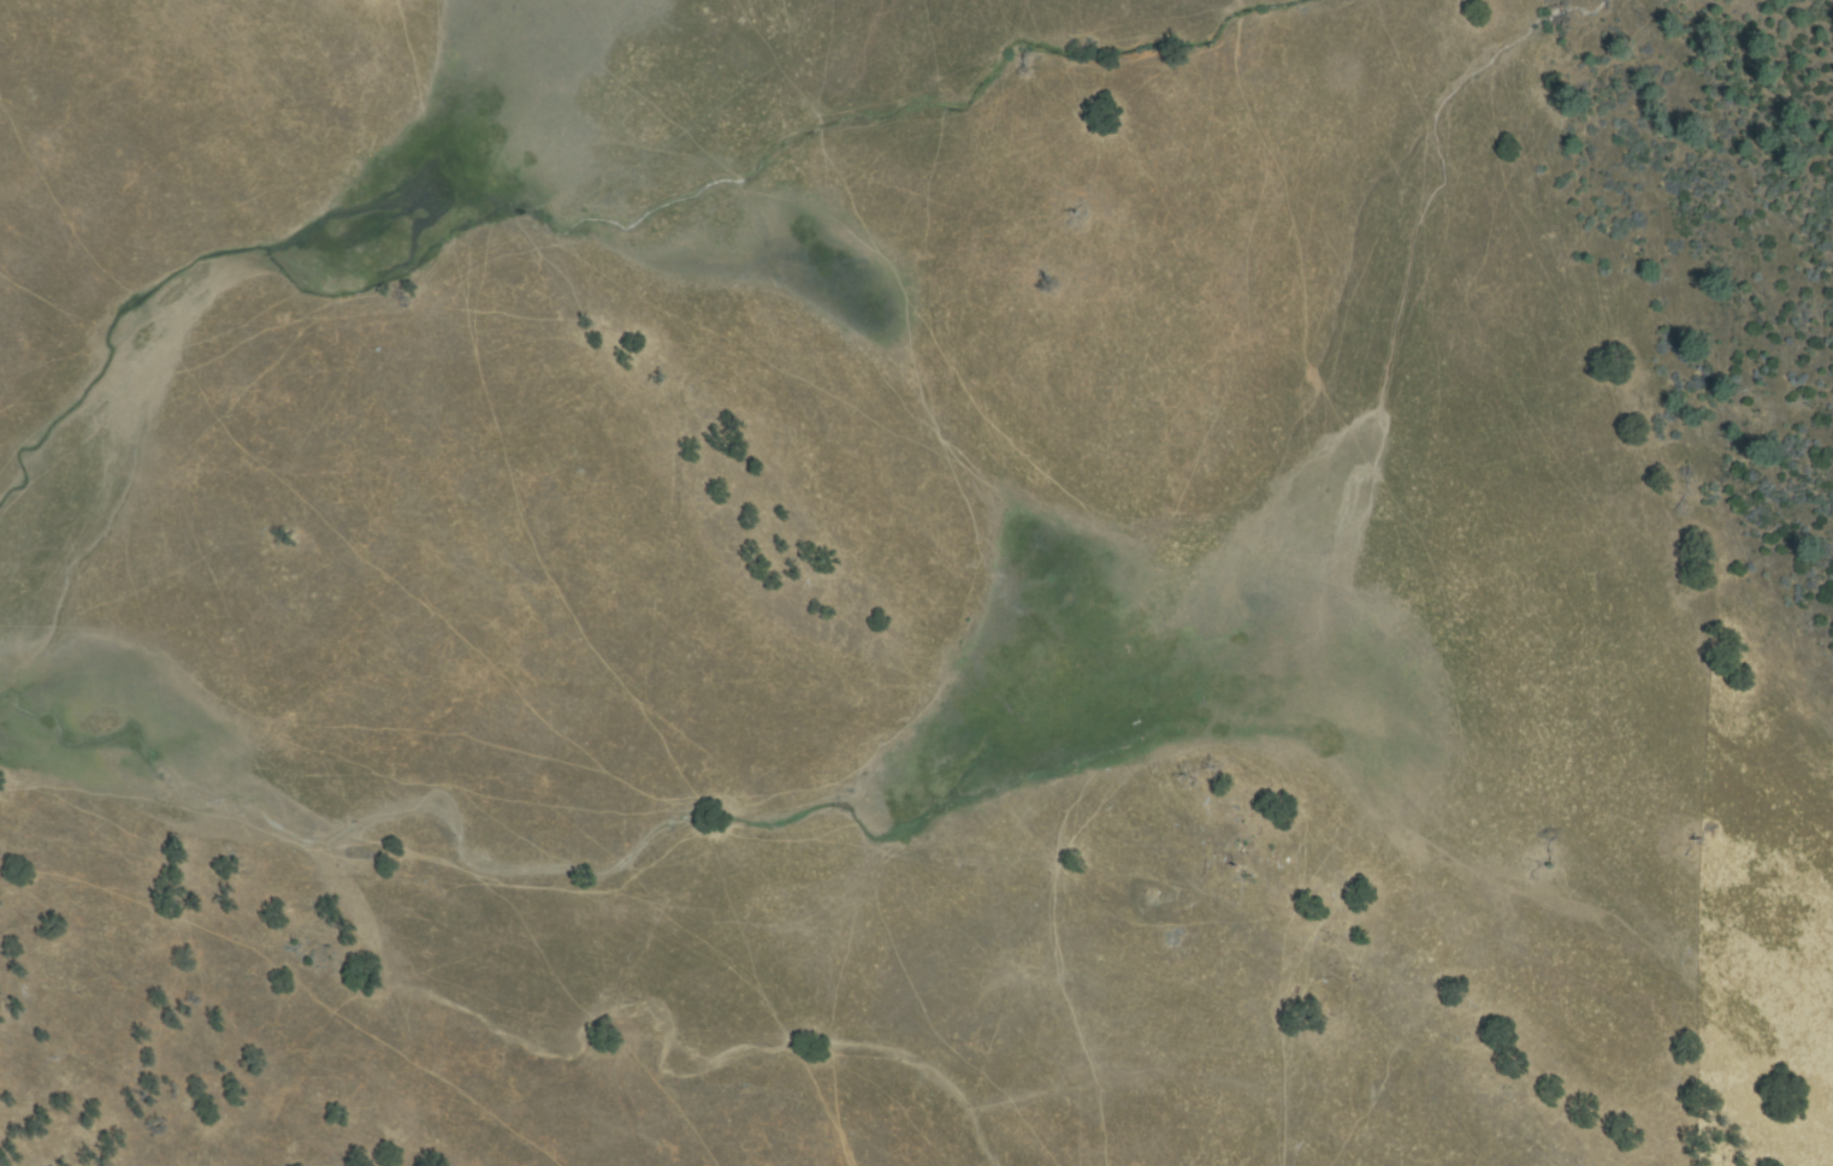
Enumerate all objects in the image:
road: (1289, 1043)

